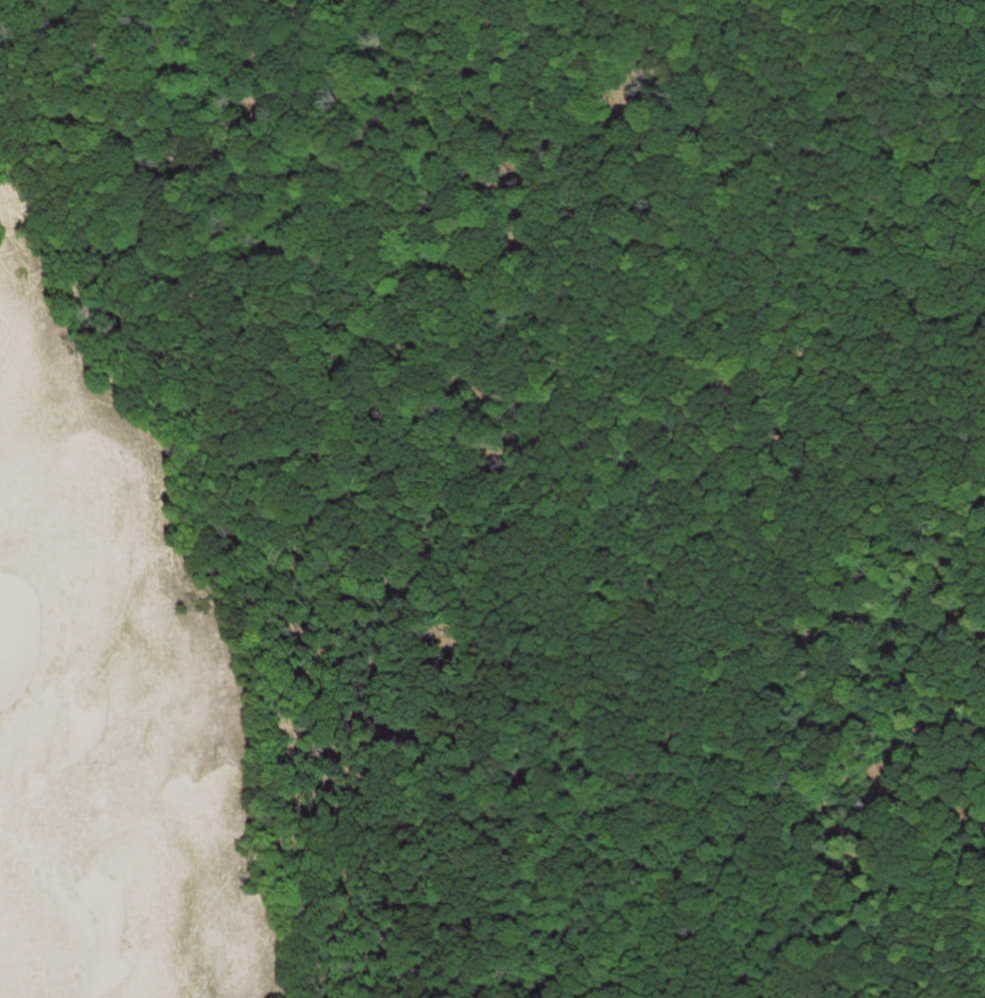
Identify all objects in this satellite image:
park: (492, 499)

